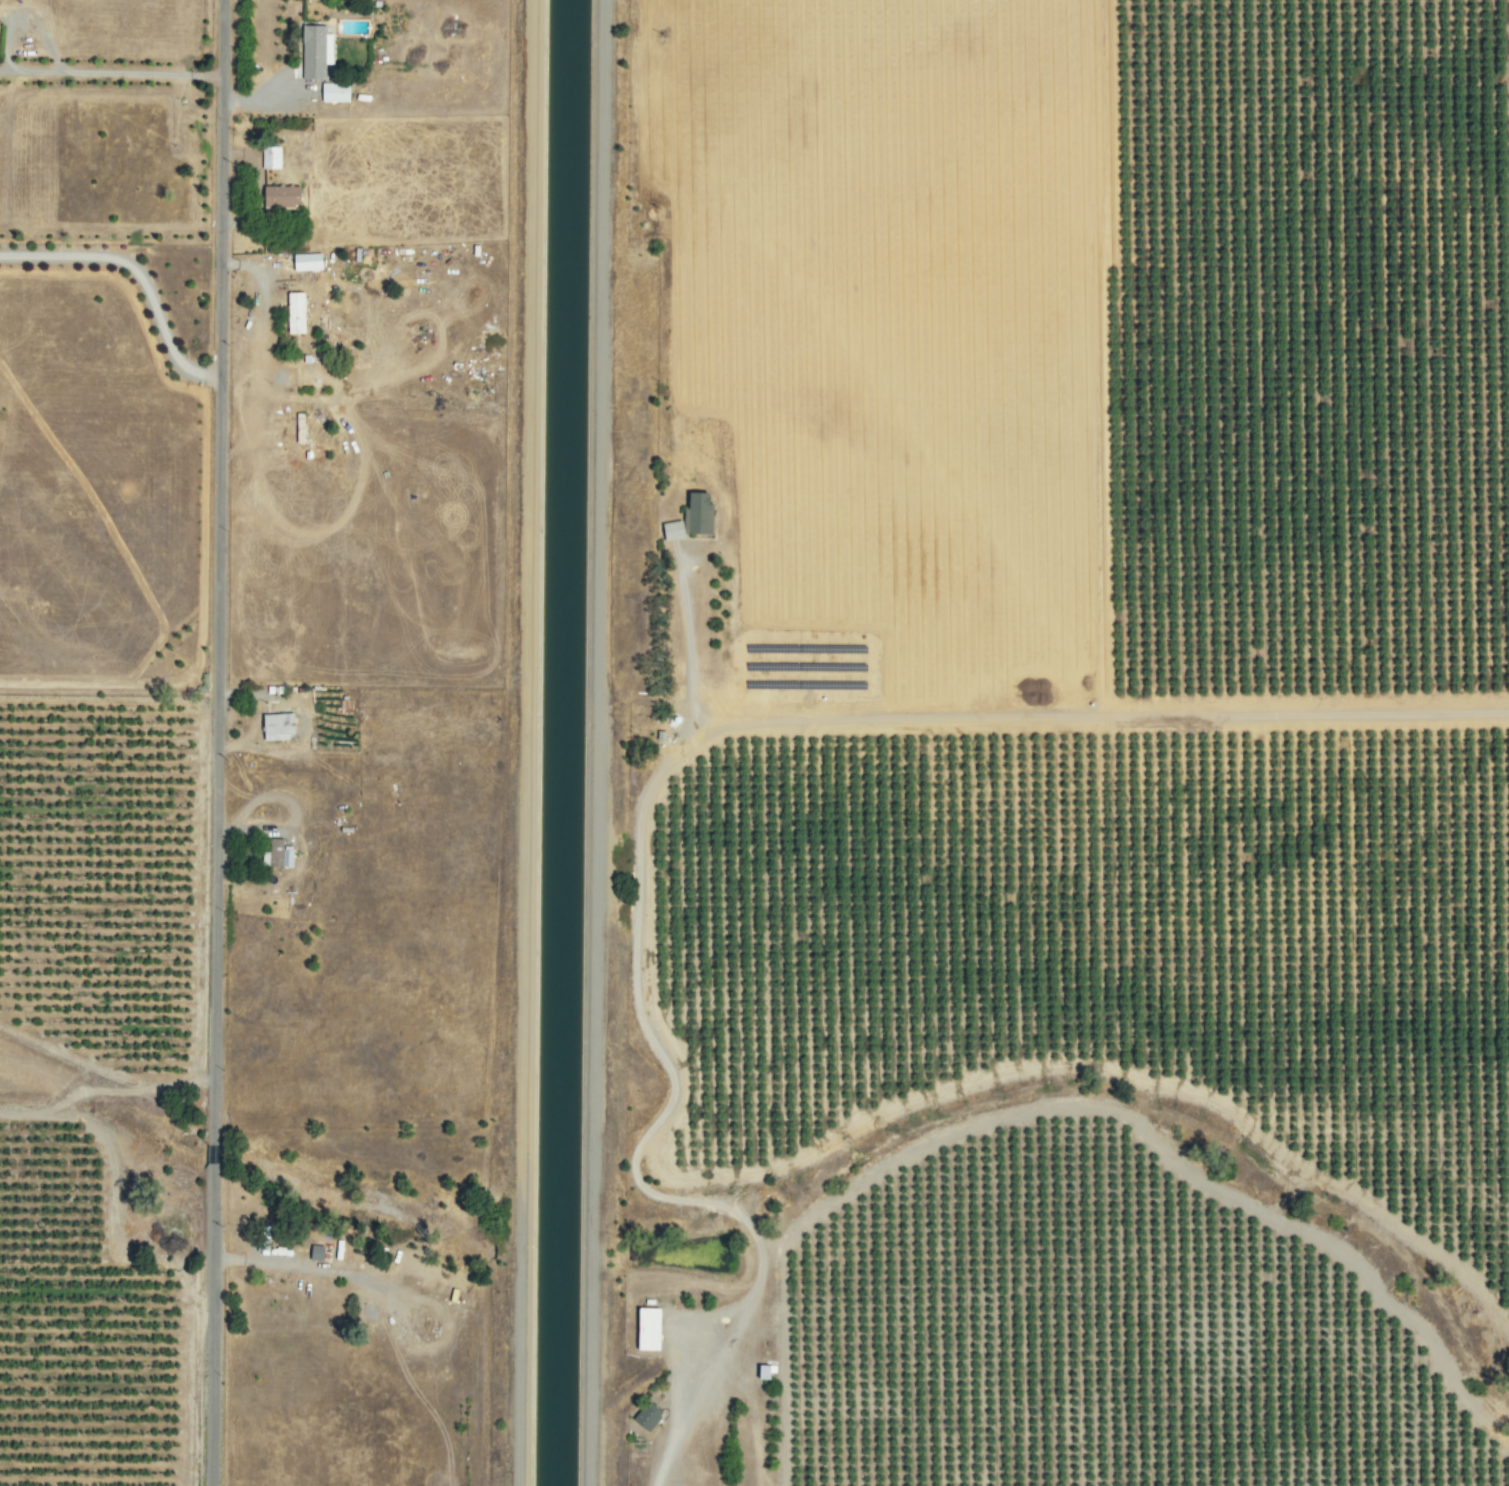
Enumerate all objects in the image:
building: (313, 51)
road: (110, 71)
building: (332, 92)
building: (268, 157)
building: (277, 196)
building: (304, 262)
road: (136, 273)
building: (292, 313)
building: (297, 428)
building: (688, 518)
road: (1099, 717)
building: (275, 725)
road: (214, 742)
road: (521, 742)
road: (595, 743)
building: (275, 853)
building: (644, 1328)
building: (645, 1416)

